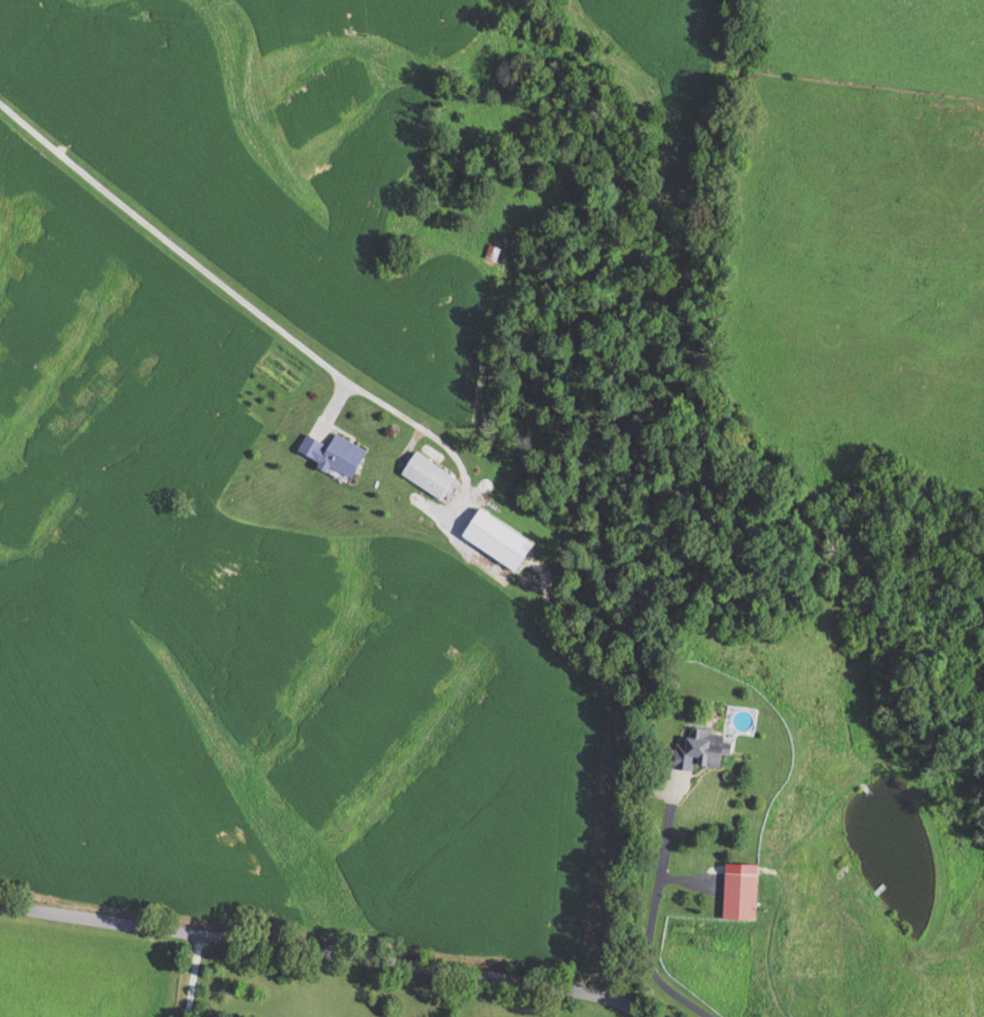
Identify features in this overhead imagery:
road: (252, 306)
road: (333, 403)
building: (337, 453)
building: (430, 475)
road: (714, 503)
building: (710, 747)
building: (744, 895)
road: (325, 951)
road: (192, 976)

